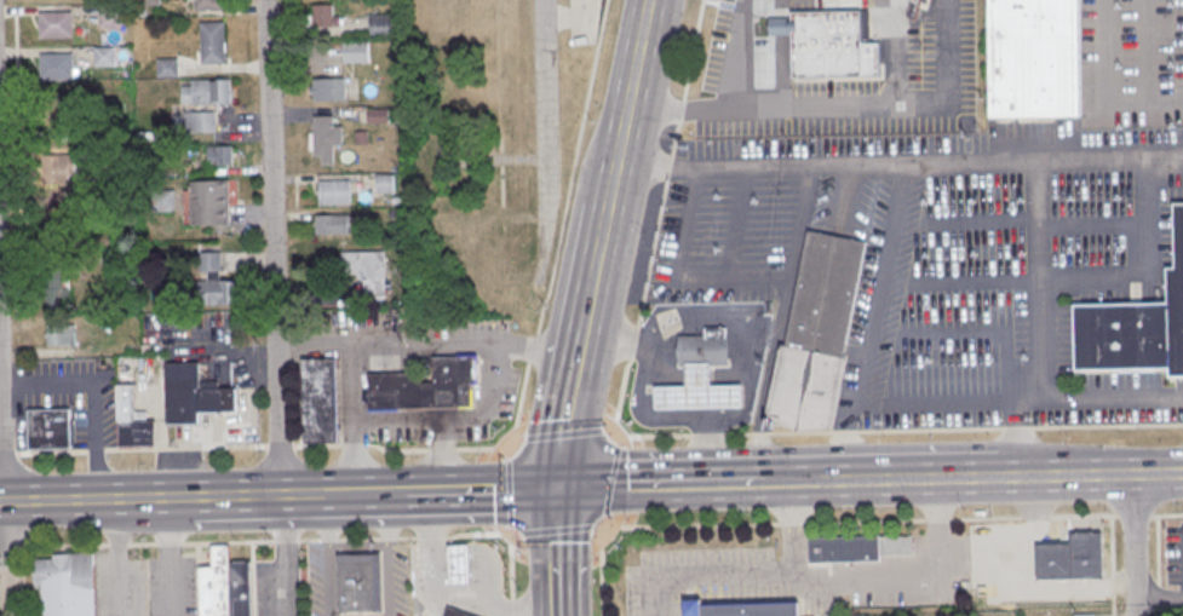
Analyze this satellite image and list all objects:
building: (150, 2)
building: (209, 5)
building: (111, 17)
building: (325, 17)
building: (57, 27)
building: (383, 27)
building: (213, 45)
building: (829, 46)
building: (356, 52)
building: (105, 58)
building: (1035, 58)
building: (57, 69)
building: (168, 69)
road: (1107, 88)
building: (329, 90)
building: (207, 93)
road: (631, 102)
road: (838, 105)
building: (54, 108)
building: (381, 116)
building: (195, 122)
road: (545, 126)
building: (327, 139)
building: (220, 156)
road: (901, 165)
road: (573, 167)
building: (58, 169)
building: (386, 184)
building: (335, 194)
building: (80, 201)
building: (212, 203)
road: (271, 203)
road: (608, 223)
building: (333, 225)
building: (54, 231)
road: (603, 249)
building: (211, 263)
building: (369, 272)
road: (680, 277)
road: (1036, 278)
building: (56, 282)
building: (216, 290)
road: (593, 293)
road: (696, 316)
road: (781, 324)
road: (872, 324)
building: (1136, 328)
building: (819, 335)
building: (62, 336)
road: (620, 336)
road: (390, 346)
road: (533, 349)
building: (706, 349)
road: (495, 363)
building: (426, 384)
building: (700, 390)
building: (194, 393)
road: (1110, 395)
road: (92, 396)
road: (523, 396)
building: (320, 399)
road: (570, 408)
building: (133, 420)
road: (397, 421)
building: (50, 427)
road: (1018, 431)
road: (564, 436)
road: (615, 436)
road: (521, 439)
road: (356, 445)
road: (512, 445)
road: (282, 447)
road: (320, 447)
road: (188, 449)
road: (442, 450)
road: (476, 450)
road: (96, 451)
road: (397, 451)
road: (278, 453)
road: (53, 454)
road: (511, 454)
road: (8, 455)
road: (702, 456)
road: (1090, 476)
road: (917, 480)
road: (608, 483)
road: (803, 483)
road: (666, 487)
traffic signals: (563, 488)
road: (484, 490)
road: (511, 493)
road: (366, 494)
road: (248, 497)
road: (86, 501)
road: (1, 503)
road: (4, 517)
road: (888, 519)
road: (603, 522)
road: (556, 531)
road: (509, 536)
road: (511, 536)
road: (260, 541)
road: (1133, 546)
building: (1087, 547)
road: (10, 548)
building: (858, 548)
road: (559, 551)
road: (386, 554)
road: (329, 555)
road: (172, 557)
road: (281, 557)
building: (1050, 558)
building: (461, 564)
road: (603, 571)
road: (751, 575)
road: (914, 576)
road: (511, 580)
building: (360, 582)
building: (67, 585)
building: (228, 586)
road: (1159, 598)
building: (742, 608)
building: (458, 612)
building: (1084, 614)

